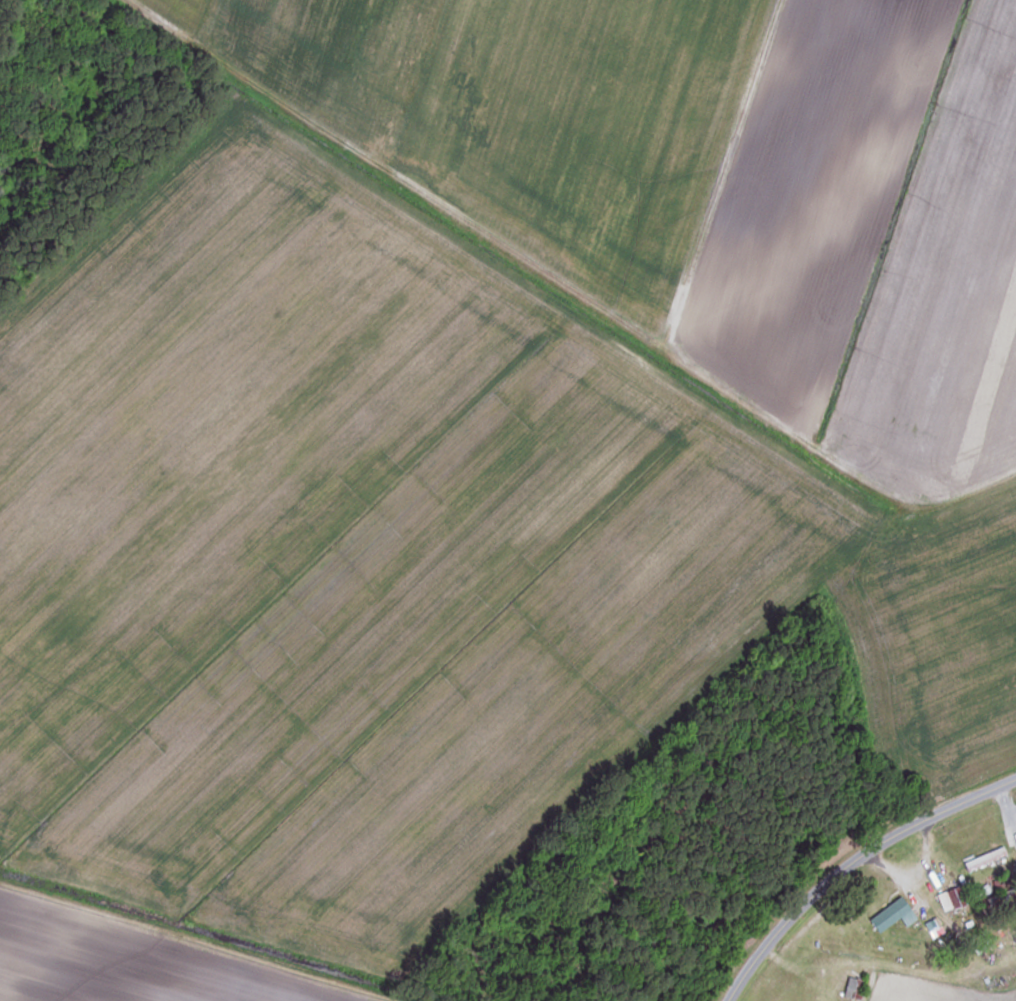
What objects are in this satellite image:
building: (987, 859)
road: (848, 862)
building: (954, 899)
building: (1003, 901)
building: (896, 916)
building: (855, 988)
building: (992, 996)

